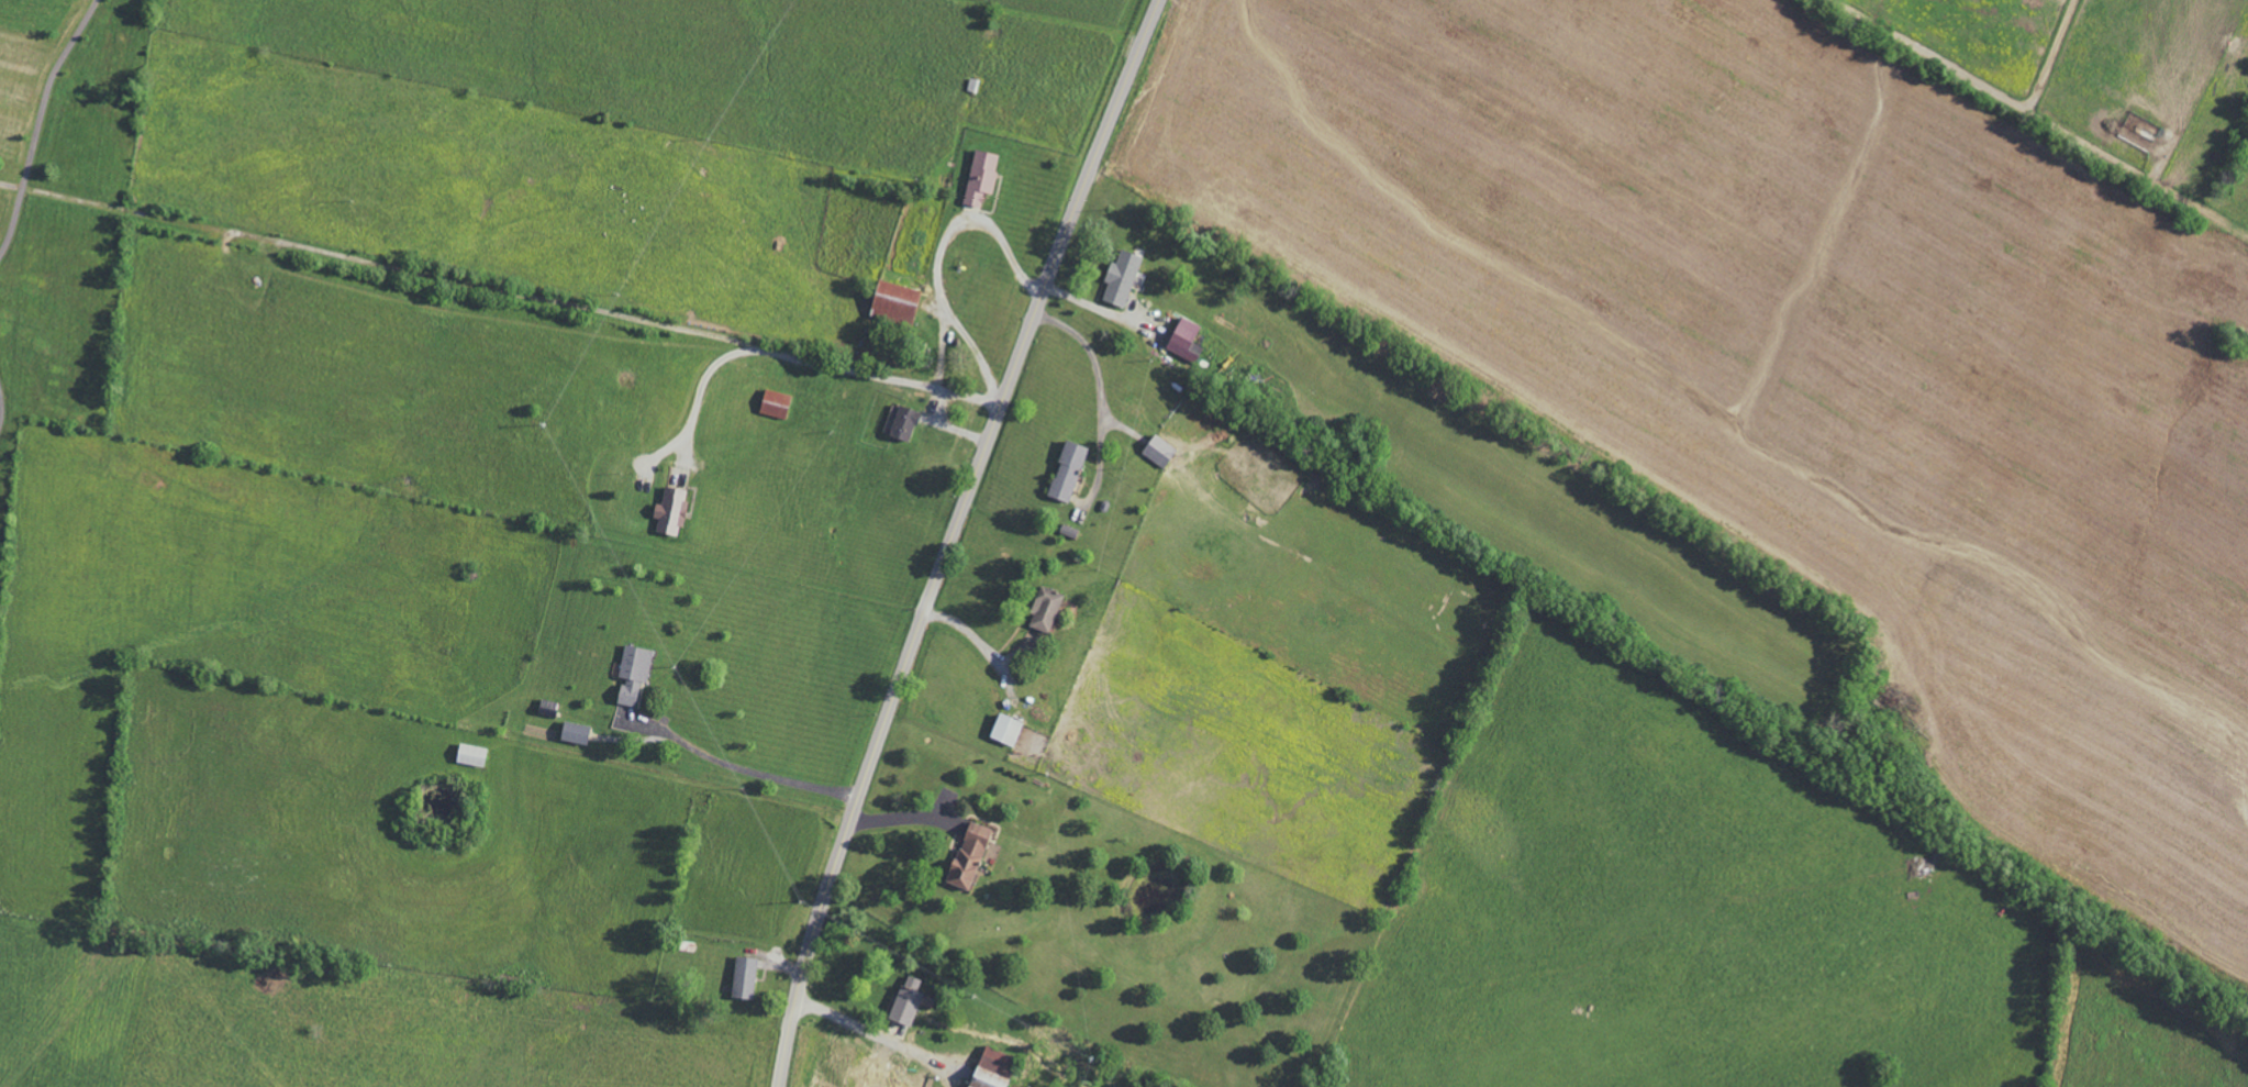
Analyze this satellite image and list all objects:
road: (37, 121)
building: (980, 176)
park: (66, 213)
road: (970, 221)
building: (1120, 277)
road: (501, 289)
building: (892, 301)
road: (957, 323)
building: (1183, 340)
road: (1091, 355)
road: (700, 387)
building: (774, 403)
building: (902, 423)
road: (948, 426)
building: (1158, 450)
building: (1066, 470)
building: (669, 511)
road: (951, 537)
building: (1044, 608)
road: (977, 644)
building: (632, 675)
building: (1004, 729)
building: (574, 732)
building: (469, 754)
road: (738, 768)
building: (967, 855)
building: (743, 977)
building: (905, 1001)
road: (870, 1032)
building: (989, 1068)

